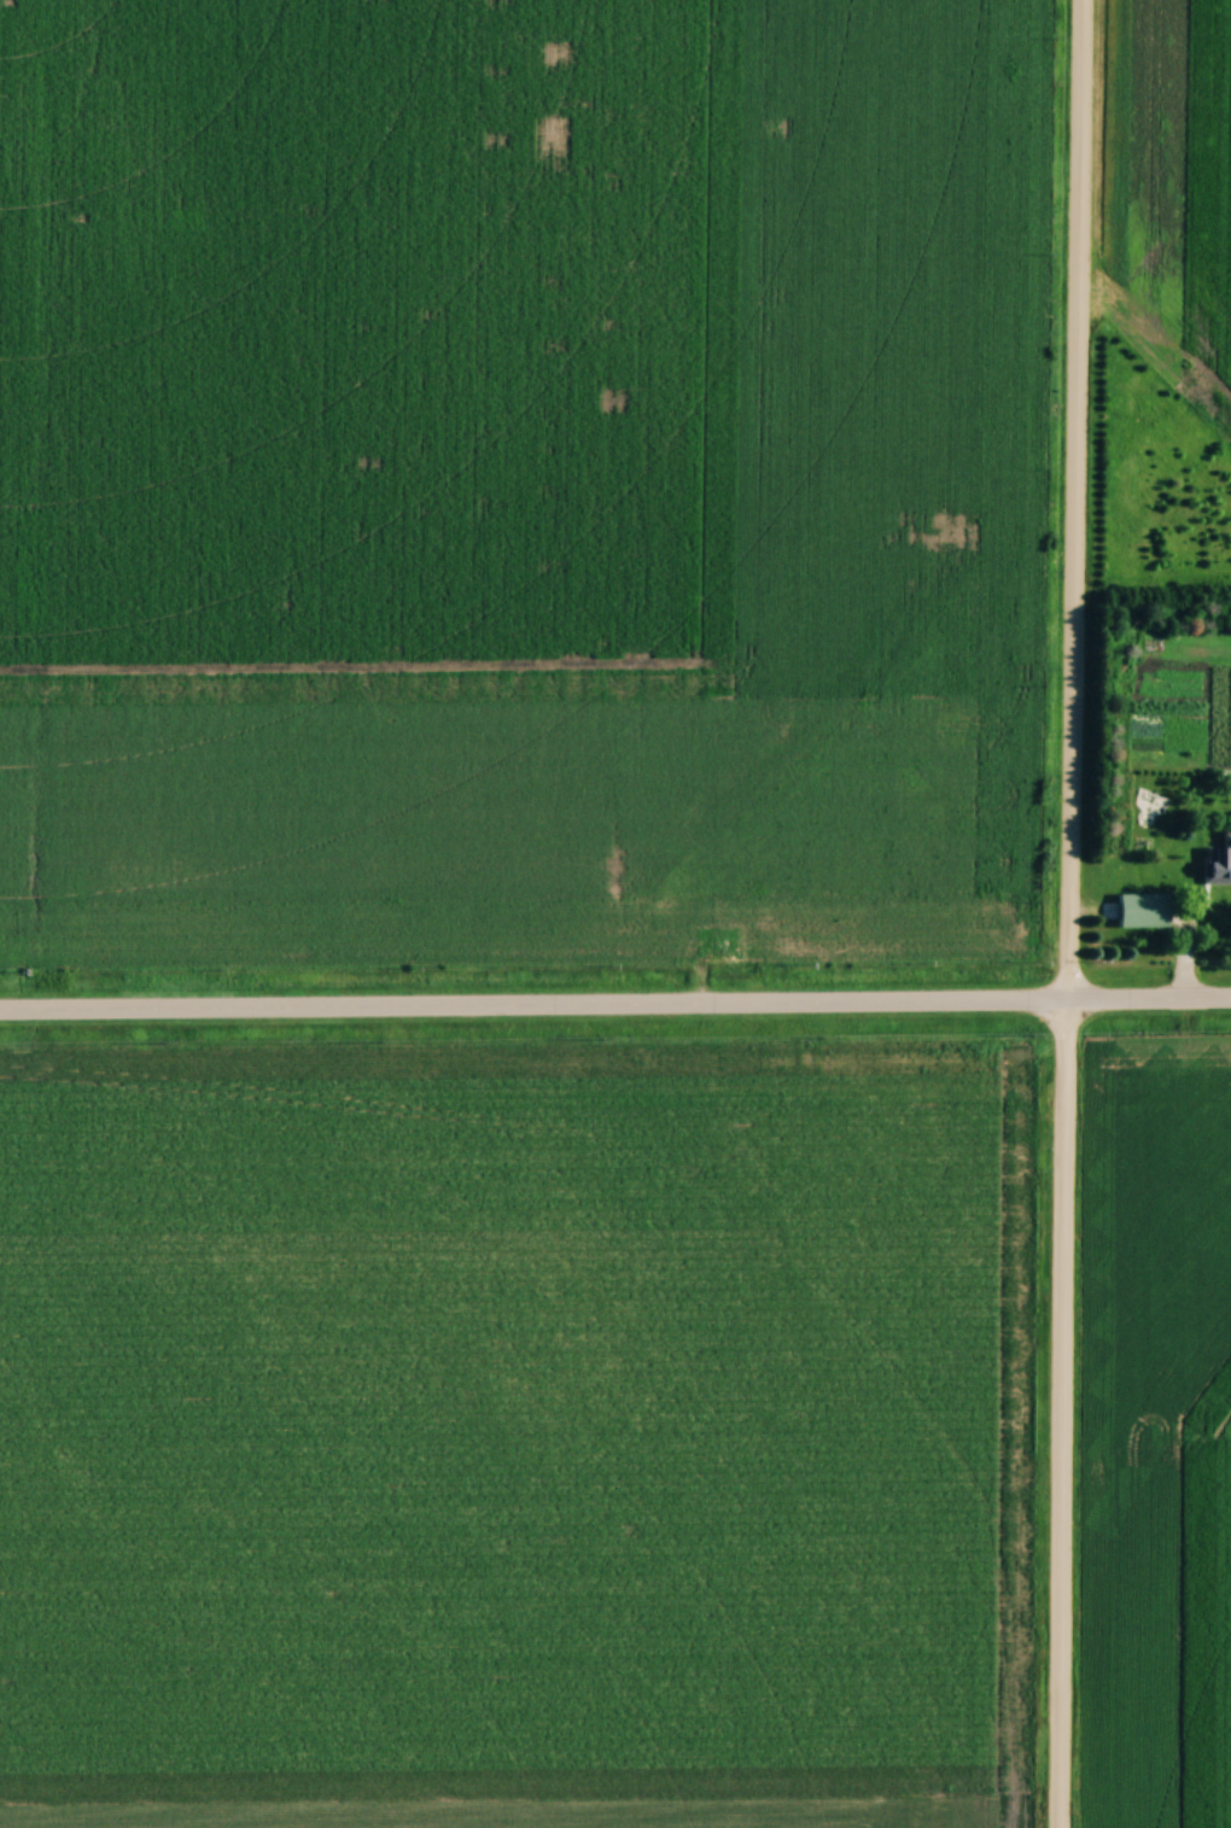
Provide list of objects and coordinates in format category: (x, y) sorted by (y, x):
crop: (518, 463)
building: (1218, 907)
building: (1149, 909)
road: (1066, 913)
road: (614, 1003)

